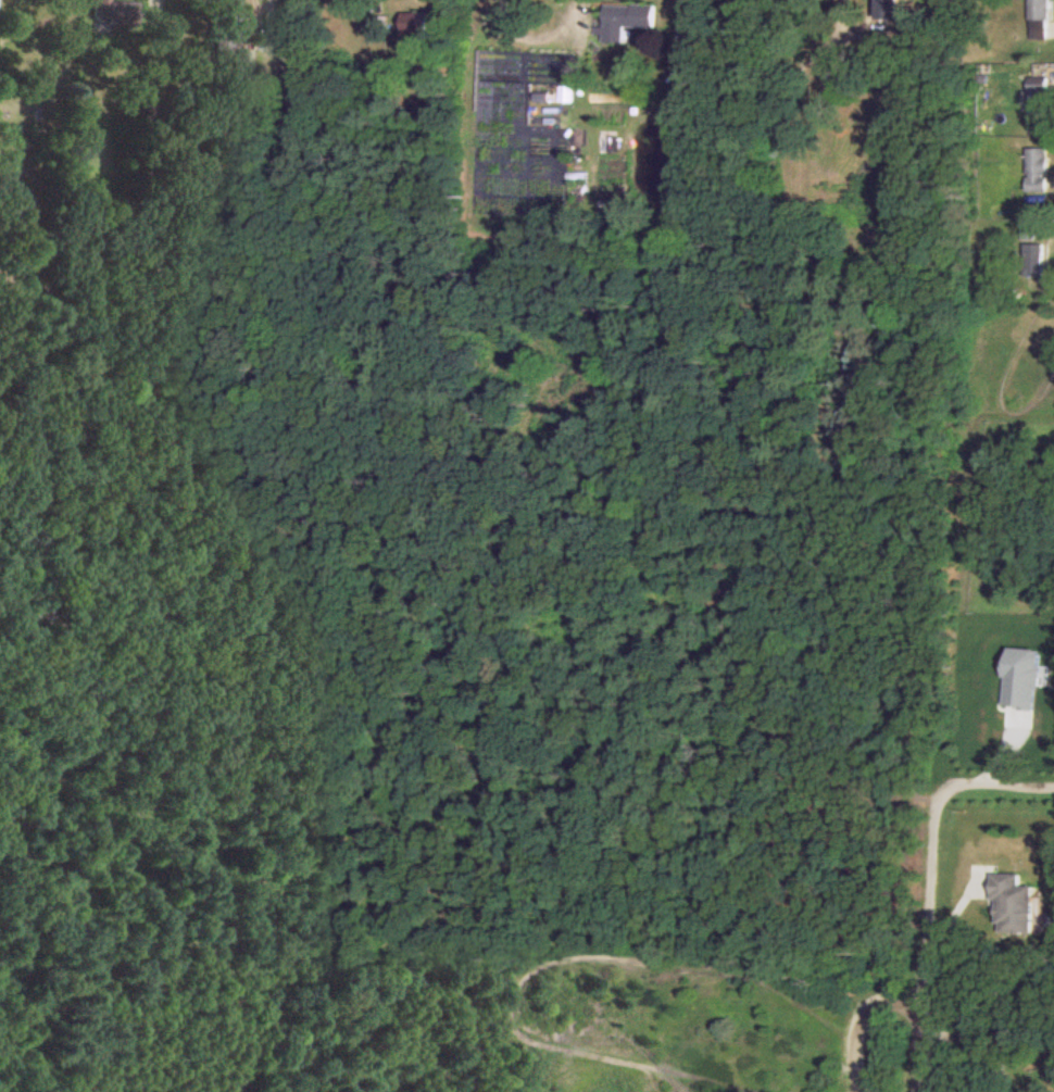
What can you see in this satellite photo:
building: (113, 9)
building: (888, 10)
building: (1040, 10)
building: (627, 18)
building: (417, 22)
road: (537, 32)
building: (224, 36)
road: (262, 57)
building: (1040, 99)
building: (1038, 168)
building: (1034, 259)
road: (995, 779)
building: (1015, 903)
road: (929, 938)
road: (863, 1020)
road: (982, 1035)

